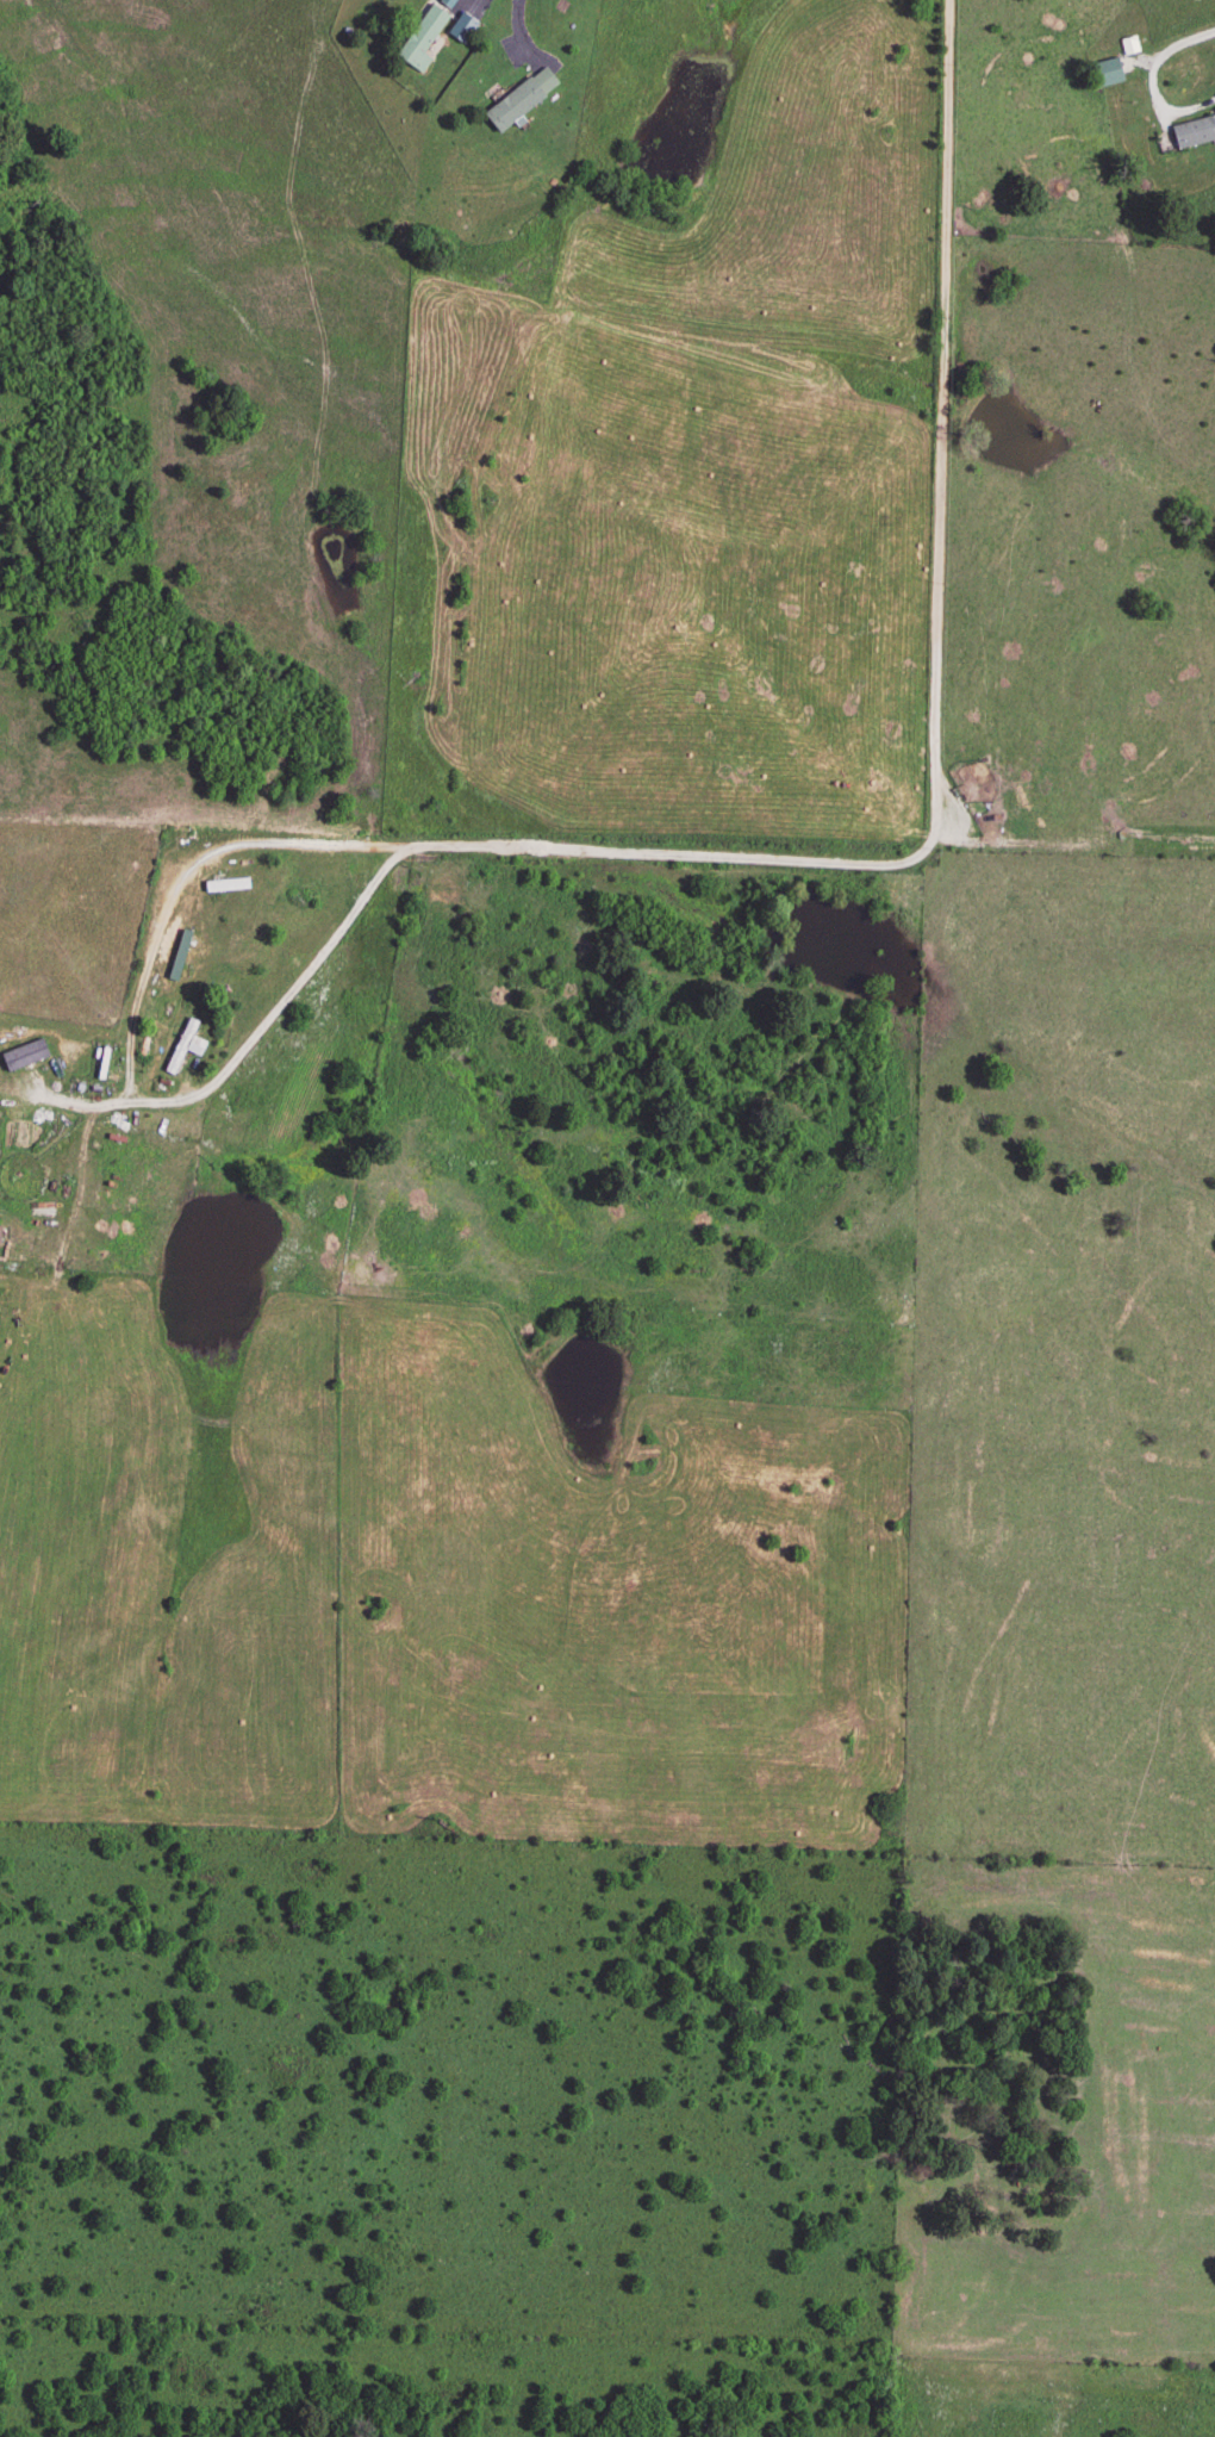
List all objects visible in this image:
road: (518, 30)
building: (419, 39)
road: (1155, 51)
building: (1102, 74)
building: (518, 100)
building: (1192, 132)
road: (937, 689)
building: (182, 1047)
road: (131, 1062)
building: (24, 1133)

